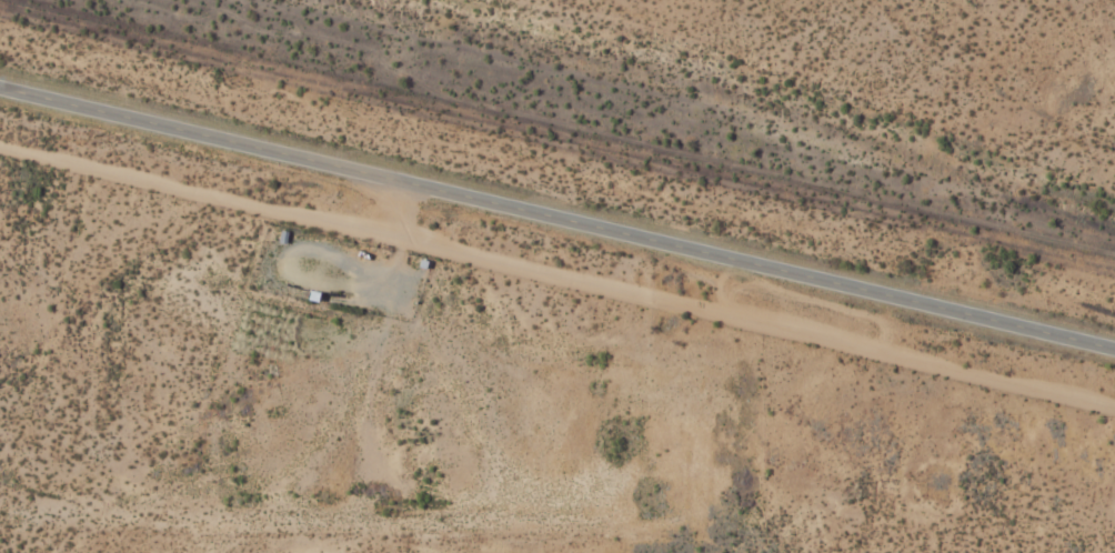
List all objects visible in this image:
road: (557, 215)
building: (318, 285)

